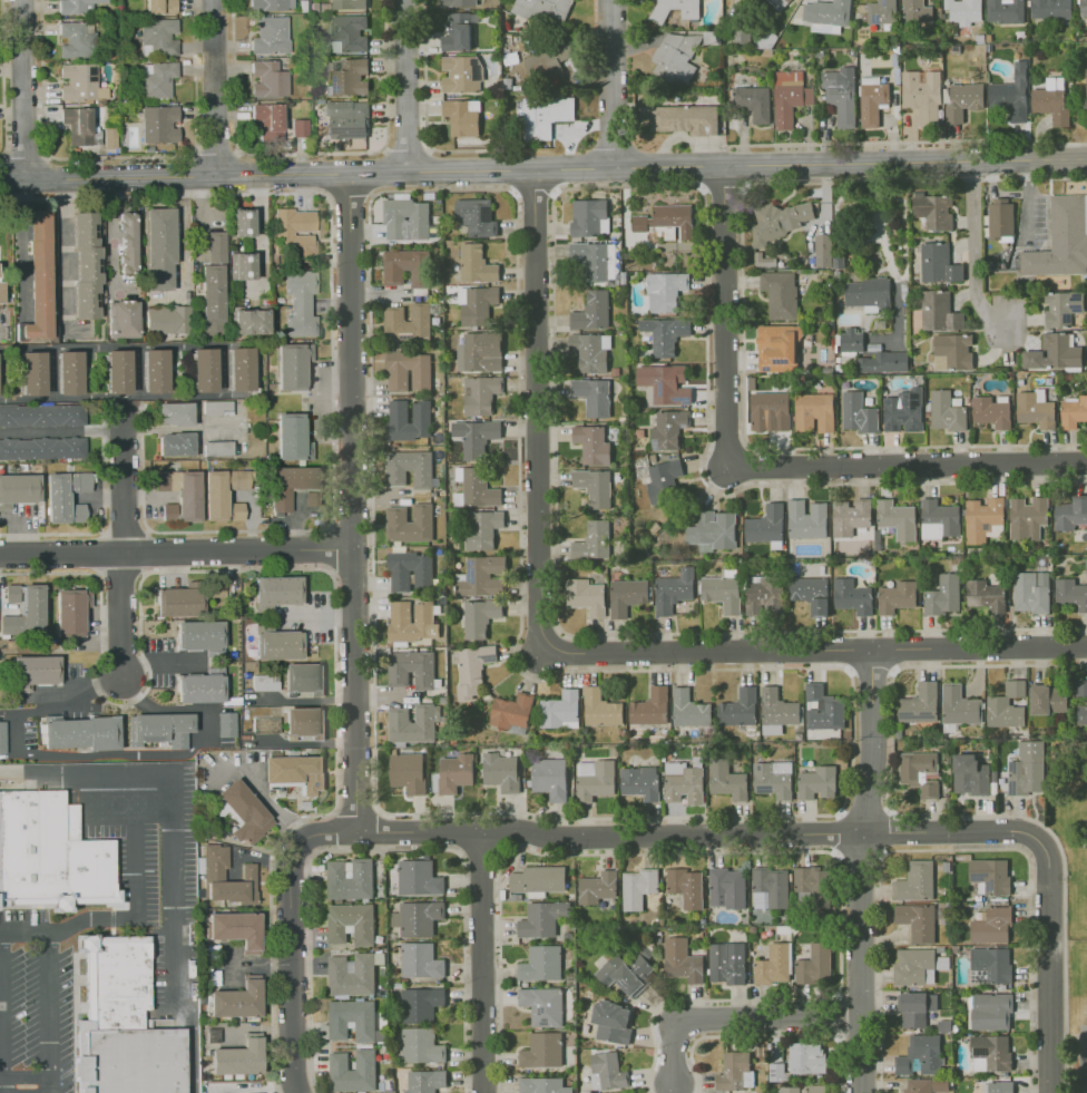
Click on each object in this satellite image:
building: (458, 2)
building: (777, 3)
building: (270, 4)
building: (349, 4)
building: (76, 6)
building: (302, 6)
building: (160, 7)
building: (1049, 8)
building: (1081, 8)
building: (674, 9)
building: (543, 10)
building: (917, 11)
building: (964, 11)
building: (1006, 11)
building: (882, 12)
building: (828, 16)
building: (944, 18)
building: (349, 33)
building: (458, 33)
building: (271, 36)
building: (158, 38)
building: (713, 38)
building: (764, 39)
building: (980, 39)
building: (77, 40)
building: (533, 41)
building: (956, 49)
building: (767, 51)
building: (820, 52)
building: (104, 57)
building: (111, 57)
building: (676, 57)
building: (895, 59)
building: (548, 60)
building: (463, 75)
building: (898, 76)
building: (349, 77)
road: (4, 79)
building: (268, 79)
building: (157, 80)
building: (78, 81)
road: (611, 84)
building: (510, 85)
road: (405, 86)
road: (214, 88)
road: (22, 89)
building: (1086, 90)
building: (841, 95)
building: (923, 95)
building: (1011, 96)
building: (790, 97)
building: (873, 100)
building: (963, 100)
building: (1050, 100)
building: (320, 101)
building: (754, 103)
road: (425, 109)
building: (546, 116)
building: (463, 117)
building: (347, 119)
building: (686, 119)
building: (268, 120)
building: (159, 124)
building: (80, 127)
building: (300, 128)
building: (314, 130)
road: (684, 137)
building: (110, 138)
road: (895, 141)
road: (407, 148)
building: (148, 149)
road: (311, 155)
road: (26, 157)
road: (216, 157)
road: (119, 159)
road: (1058, 159)
road: (515, 170)
road: (1025, 202)
building: (933, 211)
building: (476, 216)
building: (589, 217)
building: (407, 219)
building: (667, 221)
building: (778, 221)
building: (1000, 221)
building: (242, 222)
road: (259, 228)
building: (295, 232)
road: (110, 234)
building: (1061, 240)
building: (126, 241)
building: (214, 246)
building: (158, 247)
road: (22, 250)
building: (822, 250)
road: (885, 251)
road: (973, 251)
road: (184, 253)
road: (63, 255)
building: (596, 260)
building: (476, 263)
building: (939, 264)
building: (85, 265)
building: (242, 265)
building: (405, 267)
building: (38, 277)
building: (665, 291)
building: (1, 292)
building: (780, 293)
building: (866, 294)
building: (212, 299)
building: (300, 303)
building: (477, 304)
building: (1061, 306)
building: (593, 311)
building: (939, 312)
road: (727, 314)
building: (123, 319)
building: (166, 319)
building: (248, 321)
building: (408, 321)
road: (0, 332)
building: (665, 333)
building: (852, 340)
building: (776, 348)
building: (590, 351)
building: (952, 351)
building: (480, 352)
building: (1054, 352)
building: (882, 362)
building: (292, 365)
building: (239, 369)
building: (154, 370)
building: (203, 370)
road: (223, 370)
building: (117, 371)
building: (408, 371)
building: (68, 372)
building: (31, 373)
building: (665, 383)
building: (480, 394)
building: (593, 396)
building: (216, 408)
building: (1035, 408)
road: (539, 410)
building: (991, 410)
building: (770, 411)
building: (903, 411)
building: (946, 411)
building: (814, 412)
building: (1073, 412)
building: (174, 413)
building: (858, 413)
building: (41, 414)
building: (409, 419)
road: (123, 420)
road: (179, 429)
building: (668, 429)
road: (61, 430)
building: (292, 437)
building: (476, 437)
building: (175, 443)
building: (593, 445)
building: (41, 448)
building: (217, 448)
road: (909, 463)
building: (409, 468)
building: (663, 480)
building: (292, 484)
building: (594, 487)
building: (478, 488)
building: (18, 489)
building: (221, 490)
road: (125, 491)
building: (182, 491)
building: (65, 496)
building: (313, 498)
building: (168, 511)
building: (234, 511)
building: (1070, 513)
building: (850, 516)
building: (1027, 517)
building: (806, 519)
building: (897, 519)
building: (939, 519)
building: (983, 519)
building: (410, 523)
building: (766, 526)
building: (482, 528)
building: (713, 529)
building: (593, 540)
road: (177, 553)
road: (320, 568)
building: (410, 572)
building: (482, 576)
building: (673, 591)
building: (1030, 591)
building: (275, 592)
building: (1070, 592)
building: (723, 593)
building: (811, 593)
building: (764, 595)
building: (943, 595)
building: (986, 595)
building: (586, 596)
building: (627, 596)
building: (852, 596)
building: (897, 597)
building: (177, 602)
building: (23, 609)
building: (70, 611)
road: (121, 615)
building: (480, 617)
building: (412, 621)
building: (198, 635)
building: (276, 643)
road: (979, 646)
road: (707, 650)
road: (354, 658)
road: (160, 660)
building: (411, 669)
building: (472, 670)
building: (35, 671)
building: (303, 677)
building: (264, 682)
building: (199, 687)
building: (1015, 687)
building: (1048, 699)
building: (1080, 701)
building: (920, 704)
building: (958, 705)
road: (49, 706)
building: (649, 707)
building: (600, 709)
building: (689, 709)
building: (738, 709)
building: (823, 709)
road: (179, 710)
building: (560, 710)
building: (511, 711)
building: (776, 711)
building: (1003, 712)
building: (304, 722)
building: (413, 723)
building: (225, 724)
building: (159, 729)
building: (81, 732)
building: (2, 736)
road: (109, 754)
building: (1027, 769)
road: (104, 770)
building: (501, 771)
building: (295, 772)
building: (408, 772)
building: (456, 772)
building: (921, 772)
building: (970, 775)
building: (550, 778)
building: (595, 779)
building: (773, 779)
building: (726, 780)
building: (640, 782)
building: (816, 782)
building: (683, 783)
road: (94, 806)
road: (154, 806)
building: (242, 811)
road: (825, 832)
road: (385, 849)
road: (953, 849)
road: (753, 850)
building: (50, 853)
road: (862, 870)
building: (215, 871)
building: (990, 876)
building: (419, 878)
building: (350, 879)
building: (538, 879)
building: (915, 881)
building: (597, 887)
building: (637, 887)
building: (686, 887)
building: (811, 887)
building: (727, 888)
building: (770, 888)
road: (136, 914)
building: (418, 917)
building: (542, 918)
building: (918, 920)
building: (351, 923)
building: (991, 926)
building: (236, 929)
road: (176, 950)
building: (420, 960)
building: (682, 960)
road: (480, 962)
building: (726, 963)
building: (541, 964)
building: (814, 964)
building: (774, 965)
building: (990, 965)
building: (914, 966)
building: (627, 972)
building: (353, 974)
building: (237, 999)
building: (420, 1004)
building: (543, 1005)
building: (915, 1008)
building: (991, 1012)
road: (2, 1014)
road: (50, 1014)
road: (743, 1017)
parking lot: (33, 1018)
building: (352, 1019)
building: (613, 1022)
building: (123, 1023)
road: (764, 1035)
building: (421, 1045)
building: (542, 1051)
building: (990, 1053)
building: (921, 1054)
building: (238, 1057)
building: (806, 1057)
building: (352, 1071)
building: (607, 1071)
building: (735, 1071)
building: (775, 1072)
road: (26, 1076)
building: (424, 1081)
building: (542, 1085)
building: (918, 1085)
building: (940, 1085)
building: (1000, 1086)
building: (816, 1089)
building: (790, 1090)
building: (264, 1092)

